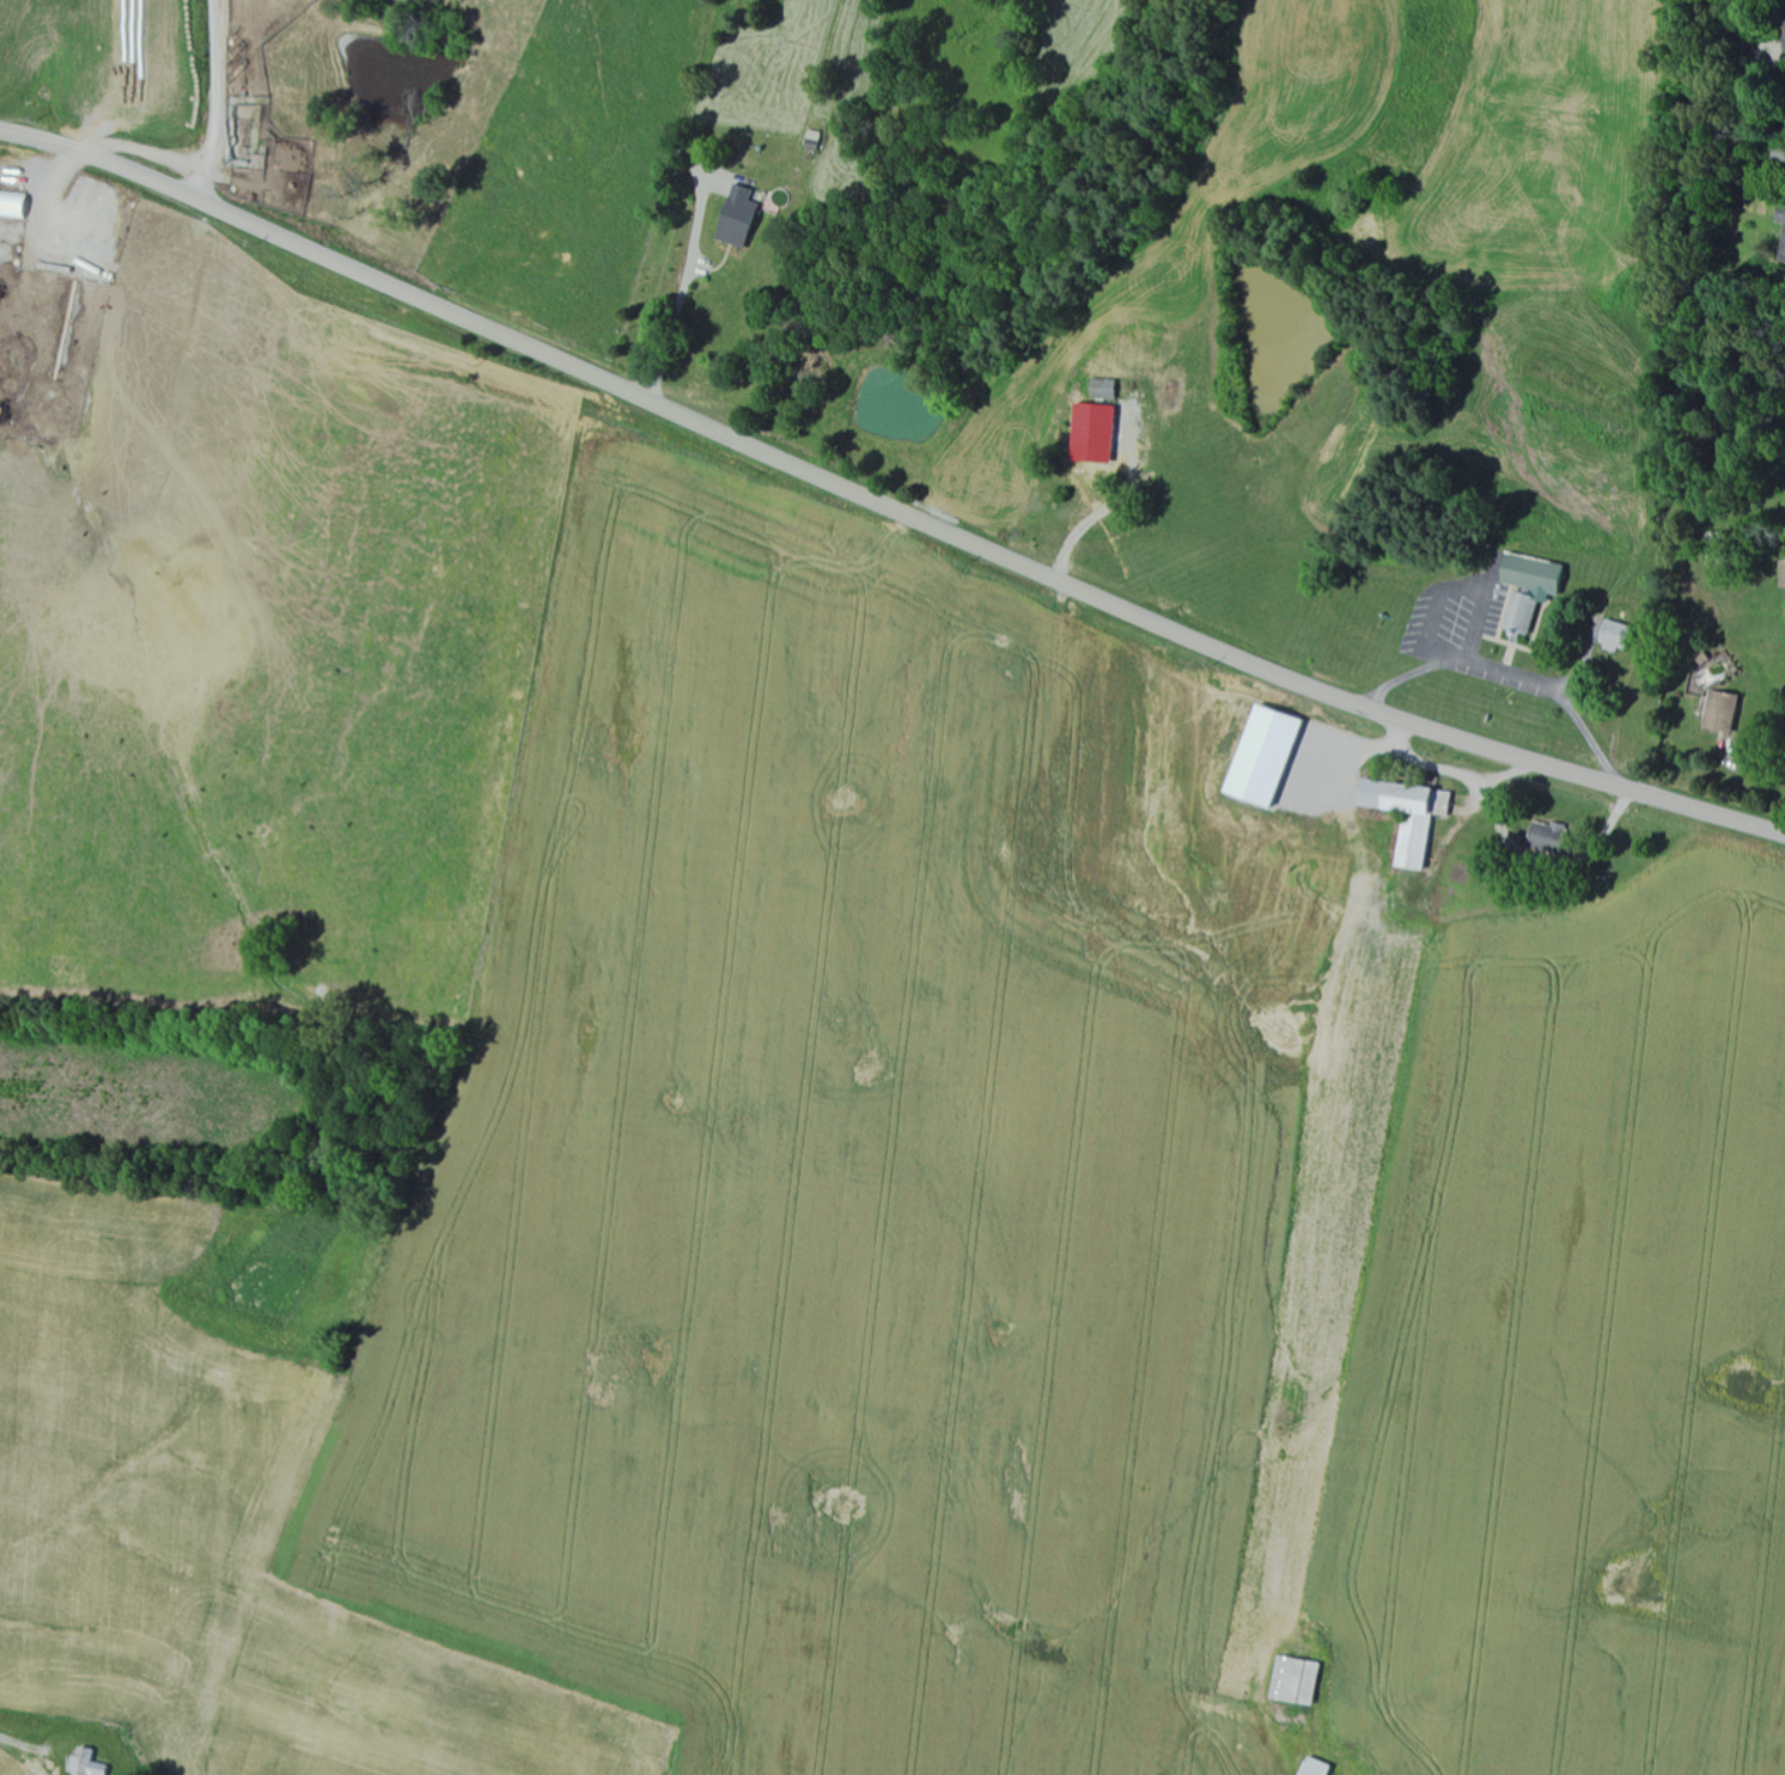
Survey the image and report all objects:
road: (223, 102)
building: (17, 205)
building: (745, 219)
building: (1784, 222)
road: (883, 505)
building: (1780, 573)
building: (1522, 591)
building: (1608, 635)
building: (1718, 710)
building: (1257, 756)
building: (1405, 815)
building: (1542, 837)
building: (1291, 1682)
building: (93, 1763)
building: (1311, 1768)
road: (17, 1770)

